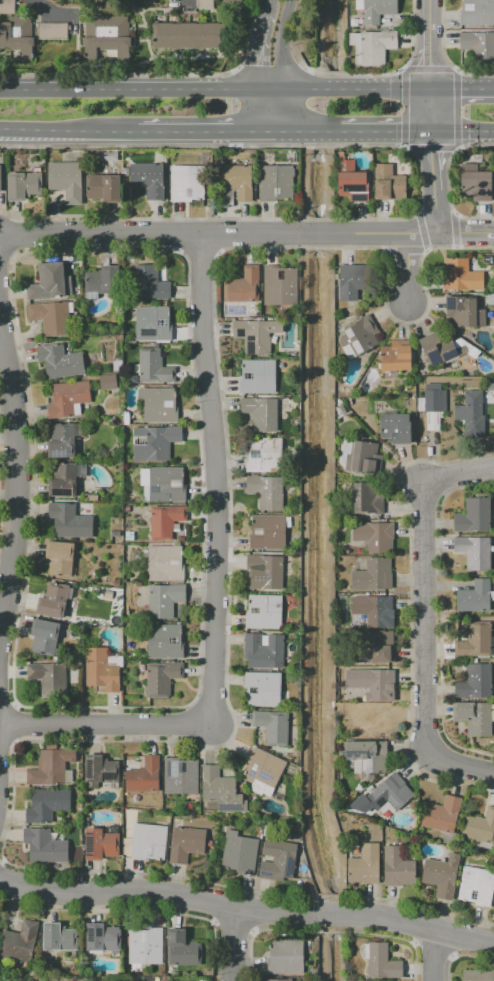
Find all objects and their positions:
building: (148, 1)
road: (38, 2)
building: (230, 2)
building: (205, 4)
building: (7, 7)
road: (271, 8)
building: (373, 10)
road: (428, 12)
building: (477, 12)
building: (52, 31)
building: (187, 35)
building: (18, 37)
building: (104, 38)
building: (478, 44)
building: (372, 46)
road: (262, 54)
road: (428, 57)
road: (281, 65)
traffic signals: (428, 66)
road: (460, 90)
traffic signals: (469, 90)
road: (342, 92)
road: (129, 93)
road: (429, 111)
road: (259, 112)
road: (64, 130)
road: (194, 131)
road: (272, 131)
road: (308, 132)
road: (381, 132)
traffic signals: (395, 132)
road: (463, 132)
traffic signals: (434, 151)
building: (105, 156)
road: (434, 162)
building: (0, 179)
building: (148, 179)
building: (65, 180)
building: (237, 180)
building: (275, 182)
building: (352, 182)
building: (476, 182)
building: (187, 183)
building: (388, 183)
building: (24, 185)
building: (104, 187)
road: (434, 214)
road: (247, 235)
road: (407, 271)
building: (461, 275)
building: (150, 281)
building: (352, 281)
building: (48, 282)
building: (101, 282)
building: (280, 284)
building: (244, 285)
building: (490, 299)
building: (464, 314)
building: (50, 317)
building: (153, 324)
building: (256, 334)
building: (358, 337)
building: (440, 347)
building: (395, 356)
building: (59, 361)
building: (117, 365)
building: (154, 366)
building: (258, 376)
building: (108, 381)
building: (405, 389)
building: (68, 399)
building: (432, 399)
building: (159, 405)
building: (341, 412)
building: (261, 413)
building: (469, 413)
building: (395, 428)
building: (61, 441)
building: (153, 442)
building: (264, 454)
building: (359, 456)
road: (219, 474)
road: (23, 476)
building: (63, 480)
building: (166, 484)
building: (266, 491)
building: (92, 497)
building: (368, 497)
building: (127, 508)
building: (473, 516)
building: (69, 521)
building: (165, 521)
building: (267, 532)
building: (115, 533)
building: (375, 537)
building: (181, 538)
building: (473, 552)
building: (59, 558)
building: (164, 563)
building: (266, 570)
building: (373, 575)
building: (116, 582)
road: (428, 587)
building: (474, 596)
building: (165, 599)
building: (53, 601)
building: (374, 610)
building: (264, 612)
building: (45, 637)
building: (164, 641)
building: (474, 641)
building: (380, 647)
building: (264, 650)
building: (102, 669)
building: (49, 678)
building: (162, 678)
building: (475, 682)
building: (376, 684)
building: (262, 689)
building: (474, 717)
building: (374, 720)
road: (103, 723)
building: (272, 726)
building: (365, 756)
building: (50, 768)
building: (100, 769)
road: (462, 769)
building: (263, 772)
building: (142, 774)
building: (180, 775)
building: (220, 792)
building: (389, 794)
building: (46, 804)
building: (441, 814)
building: (480, 826)
building: (145, 842)
building: (186, 843)
building: (100, 844)
building: (44, 846)
building: (239, 853)
building: (278, 860)
building: (365, 865)
building: (397, 867)
building: (442, 875)
building: (476, 886)
road: (247, 909)
building: (58, 937)
building: (103, 938)
building: (19, 942)
road: (236, 945)
building: (145, 946)
building: (182, 949)
road: (434, 955)
building: (286, 957)
building: (382, 962)
building: (478, 975)
building: (279, 980)

